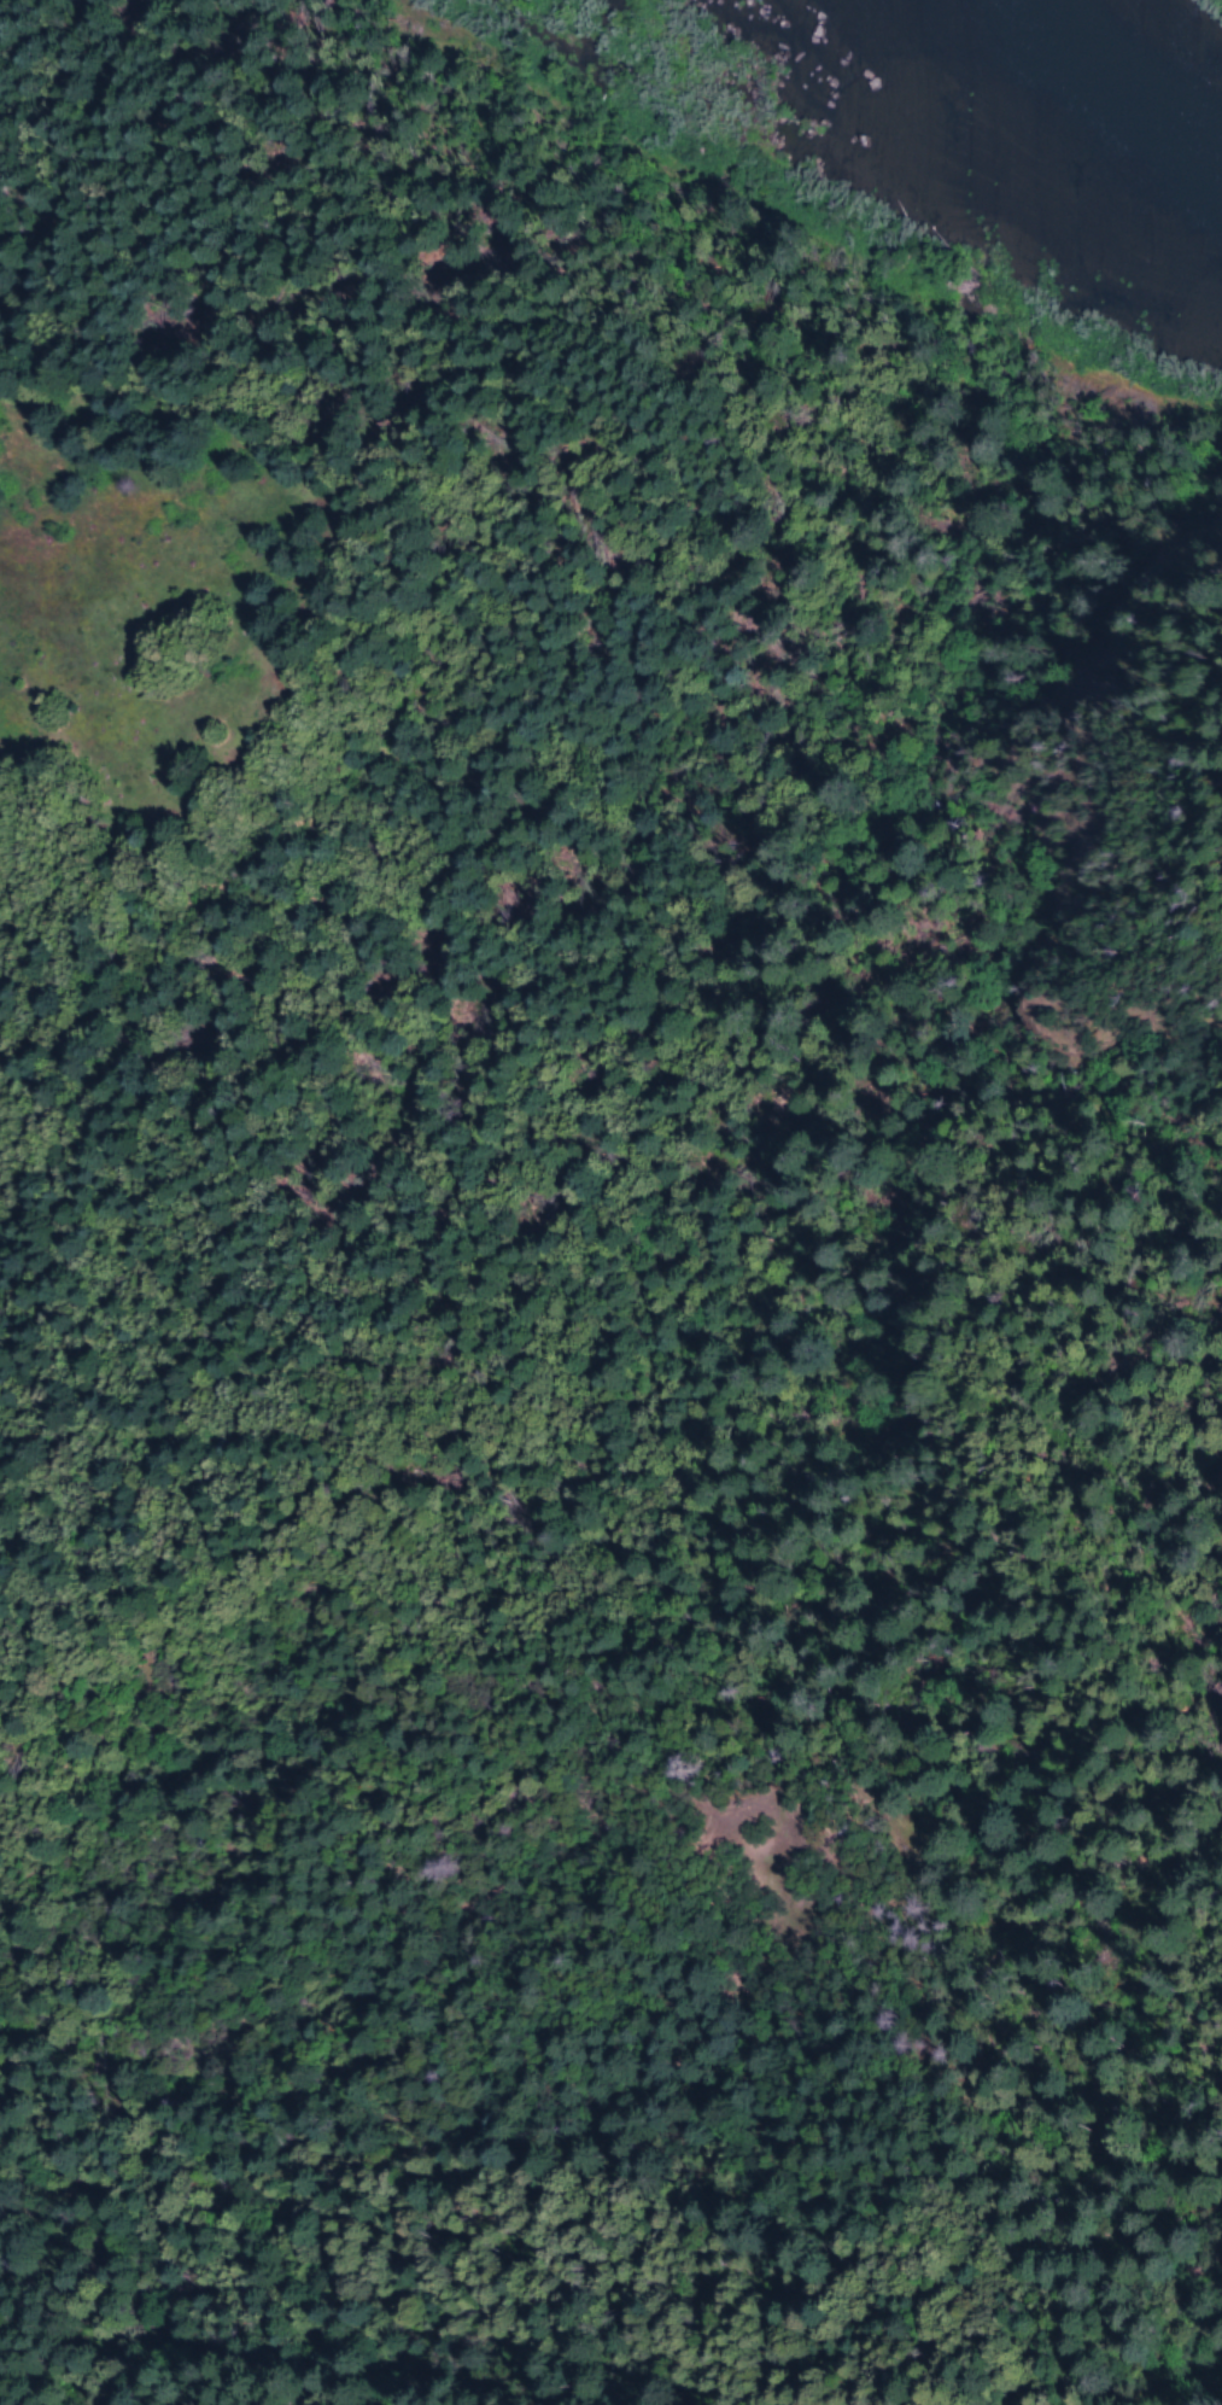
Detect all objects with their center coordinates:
river: (1104, 101)

